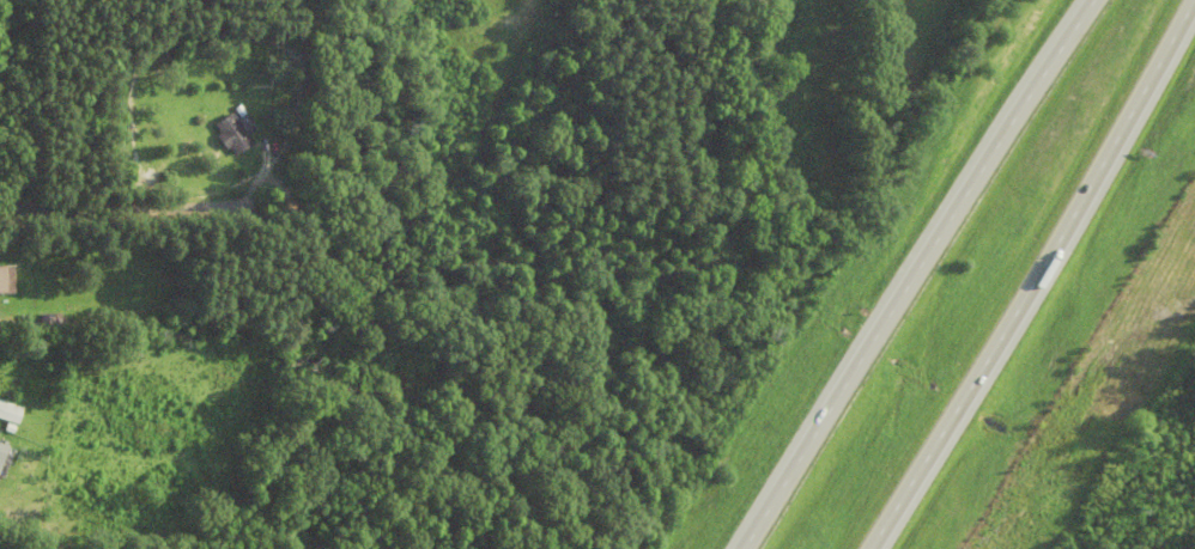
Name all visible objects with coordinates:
building: (233, 136)
road: (122, 209)
road: (917, 273)
road: (1029, 274)
building: (7, 281)
building: (50, 325)
building: (2, 456)
road: (10, 548)

